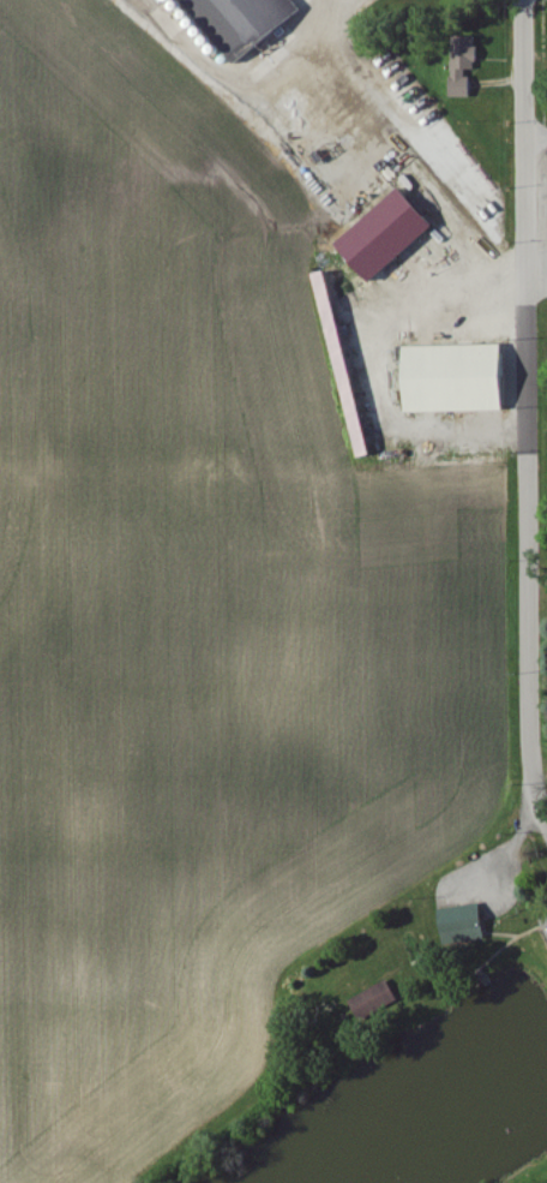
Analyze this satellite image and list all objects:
building: (464, 67)
road: (240, 80)
road: (535, 136)
building: (390, 235)
road: (536, 281)
road: (379, 364)
building: (348, 365)
building: (459, 380)
road: (525, 401)
road: (540, 814)
building: (467, 925)
building: (374, 1002)

